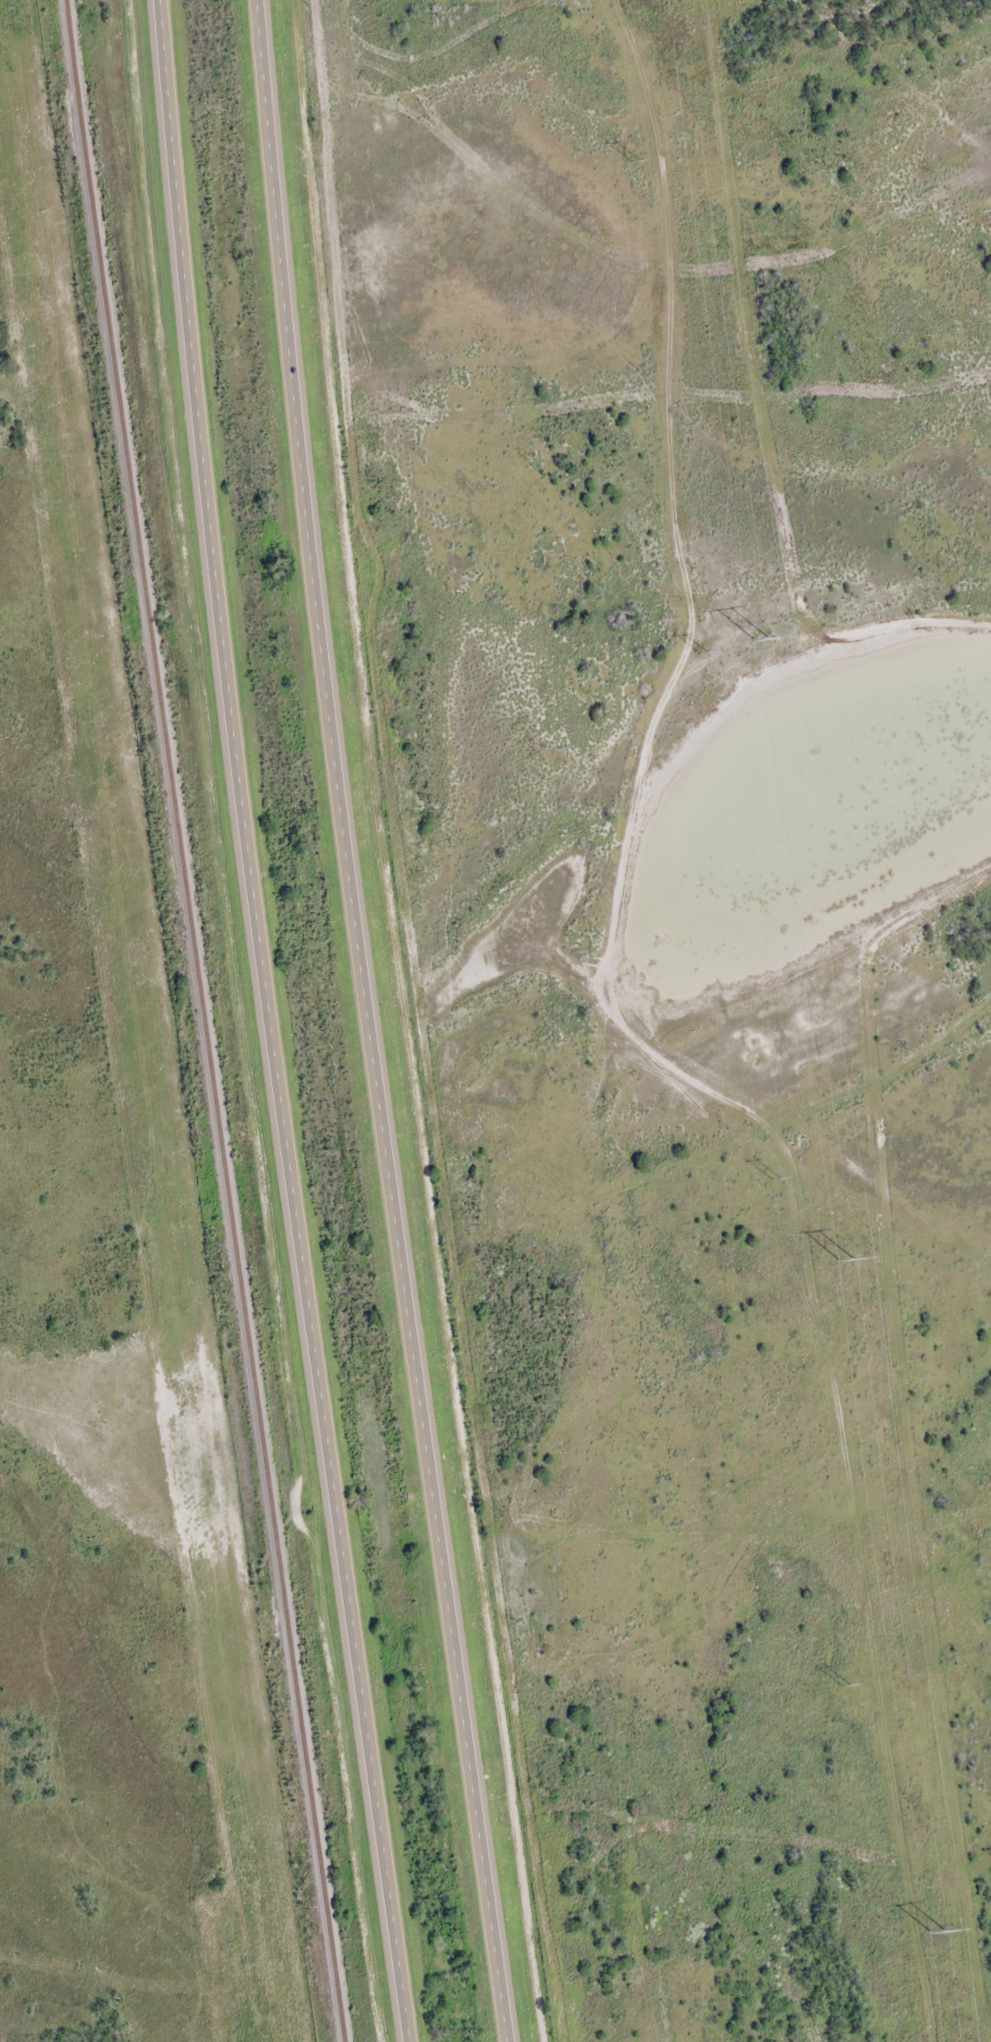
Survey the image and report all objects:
power tower: (633, 161)
power tower: (760, 640)
power tower: (701, 651)
railway: (205, 1020)
road: (277, 1022)
road: (373, 1022)
power tower: (773, 1177)
power tower: (843, 1260)
road: (937, 1555)
power tower: (843, 1684)
power tower: (936, 1934)

